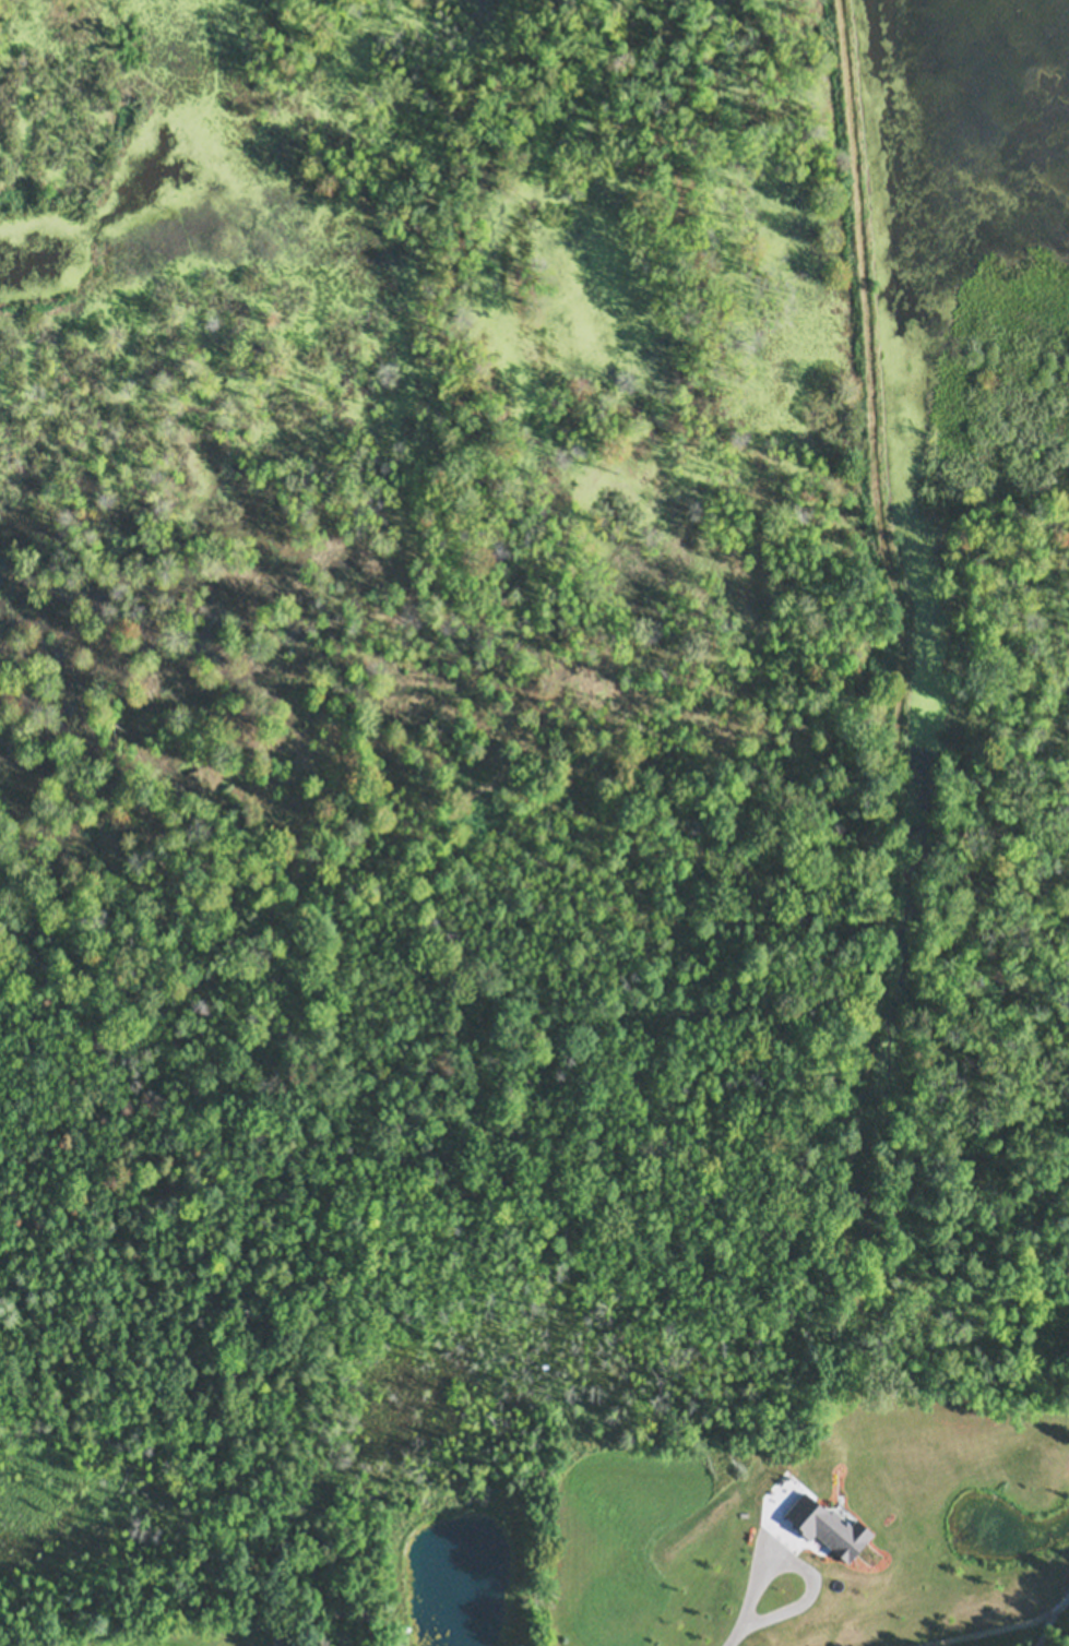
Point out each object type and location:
building: (832, 1241)
building: (828, 1520)
road: (800, 1565)
road: (985, 1631)
road: (731, 1633)

